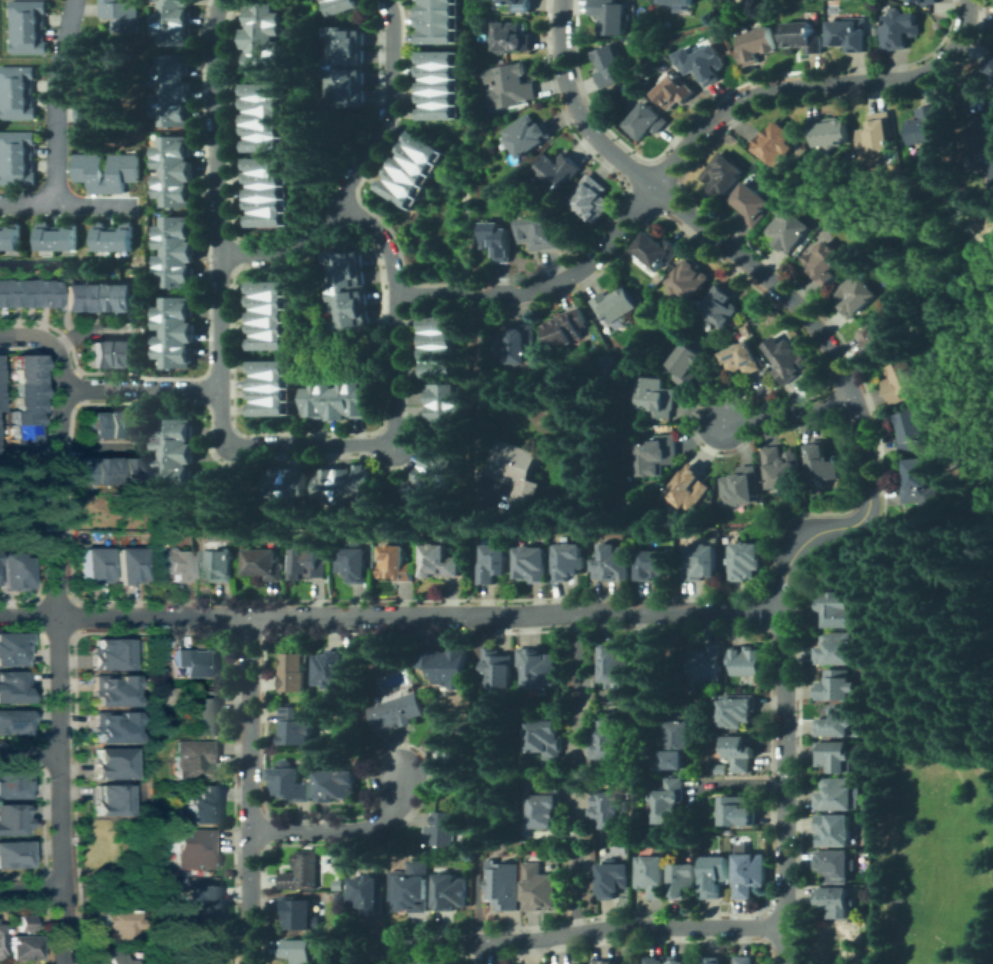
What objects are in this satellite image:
building: (326, 0)
building: (727, 0)
building: (436, 1)
building: (176, 2)
building: (675, 2)
building: (925, 2)
building: (341, 5)
building: (519, 5)
building: (435, 9)
building: (26, 12)
building: (266, 13)
building: (120, 14)
building: (174, 15)
building: (613, 17)
building: (436, 23)
building: (899, 29)
building: (265, 30)
building: (877, 30)
building: (174, 34)
building: (849, 34)
building: (344, 36)
building: (435, 36)
building: (803, 36)
building: (510, 38)
building: (26, 39)
building: (265, 44)
building: (757, 45)
building: (344, 56)
building: (437, 57)
building: (266, 61)
building: (702, 63)
building: (989, 63)
building: (610, 64)
building: (173, 65)
building: (437, 71)
building: (344, 76)
building: (16, 78)
building: (174, 82)
building: (437, 84)
building: (509, 86)
building: (627, 86)
building: (265, 89)
building: (674, 90)
building: (174, 97)
building: (344, 97)
building: (437, 98)
road: (57, 101)
building: (266, 103)
building: (16, 105)
building: (97, 109)
building: (437, 111)
building: (173, 114)
building: (265, 116)
building: (646, 121)
building: (928, 125)
building: (266, 130)
building: (828, 131)
building: (878, 133)
building: (527, 136)
building: (265, 143)
building: (16, 144)
building: (776, 144)
building: (173, 145)
building: (422, 145)
building: (980, 145)
road: (683, 147)
building: (415, 157)
building: (174, 163)
building: (266, 164)
road: (357, 168)
building: (407, 168)
building: (16, 171)
building: (89, 171)
building: (558, 171)
building: (121, 172)
building: (723, 175)
building: (266, 177)
building: (174, 178)
building: (401, 180)
building: (266, 191)
building: (394, 192)
building: (173, 194)
building: (590, 198)
building: (266, 204)
building: (751, 204)
road: (67, 205)
road: (221, 215)
building: (267, 218)
building: (173, 226)
building: (789, 230)
building: (538, 233)
building: (9, 235)
building: (45, 236)
building: (66, 236)
building: (101, 236)
building: (122, 236)
building: (498, 240)
building: (174, 243)
building: (657, 250)
building: (174, 258)
building: (342, 259)
building: (824, 264)
building: (173, 275)
building: (345, 279)
building: (690, 279)
building: (267, 287)
building: (1, 292)
building: (11, 292)
building: (25, 292)
building: (39, 292)
building: (856, 296)
building: (60, 297)
building: (74, 297)
building: (88, 297)
building: (102, 297)
building: (116, 297)
building: (130, 297)
building: (347, 299)
building: (267, 300)
building: (616, 305)
building: (722, 306)
building: (173, 307)
road: (393, 310)
building: (268, 314)
building: (350, 320)
building: (174, 323)
building: (438, 325)
building: (267, 327)
road: (91, 328)
building: (566, 328)
building: (174, 338)
building: (882, 338)
building: (438, 339)
building: (268, 341)
building: (516, 344)
building: (439, 353)
building: (88, 354)
building: (102, 354)
building: (116, 354)
building: (130, 354)
building: (173, 355)
building: (742, 359)
building: (787, 359)
building: (20, 360)
building: (686, 365)
building: (268, 366)
building: (439, 366)
building: (20, 374)
building: (268, 380)
building: (901, 381)
building: (20, 388)
road: (139, 390)
building: (268, 393)
building: (443, 394)
road: (480, 397)
building: (656, 397)
building: (312, 398)
building: (361, 398)
building: (329, 399)
building: (344, 399)
building: (20, 402)
building: (268, 407)
building: (443, 413)
road: (786, 414)
building: (16, 416)
building: (88, 425)
building: (102, 425)
building: (116, 425)
building: (130, 425)
building: (173, 429)
building: (16, 430)
building: (911, 431)
building: (16, 444)
road: (97, 445)
road: (304, 445)
building: (174, 446)
road: (867, 448)
building: (658, 456)
building: (174, 461)
building: (439, 462)
building: (822, 463)
building: (102, 469)
building: (116, 469)
building: (130, 469)
building: (781, 469)
building: (74, 470)
building: (88, 470)
building: (173, 477)
building: (519, 478)
building: (365, 481)
building: (429, 481)
building: (917, 482)
building: (326, 484)
building: (347, 484)
building: (275, 485)
building: (295, 485)
building: (742, 487)
building: (690, 488)
building: (419, 496)
building: (440, 561)
building: (569, 561)
building: (745, 561)
building: (614, 562)
building: (701, 562)
building: (172, 563)
building: (309, 563)
building: (495, 563)
building: (265, 564)
building: (356, 564)
building: (397, 564)
building: (532, 564)
building: (656, 564)
building: (93, 565)
building: (126, 565)
building: (218, 565)
building: (13, 572)
building: (838, 608)
road: (26, 615)
road: (418, 615)
road: (53, 627)
building: (836, 648)
building: (11, 649)
building: (108, 653)
building: (747, 660)
building: (196, 662)
building: (707, 663)
building: (614, 664)
building: (446, 665)
building: (539, 666)
building: (333, 669)
building: (499, 671)
building: (295, 672)
building: (838, 685)
building: (12, 686)
road: (577, 686)
building: (110, 690)
building: (736, 711)
building: (399, 712)
building: (204, 714)
building: (12, 721)
building: (837, 722)
building: (297, 726)
building: (111, 727)
building: (545, 739)
building: (607, 739)
building: (677, 743)
building: (457, 752)
building: (739, 752)
road: (29, 753)
building: (835, 756)
building: (196, 758)
building: (109, 763)
road: (484, 776)
building: (12, 783)
building: (290, 784)
building: (337, 784)
road: (250, 789)
building: (837, 794)
building: (106, 800)
building: (669, 801)
building: (203, 803)
building: (545, 809)
building: (606, 809)
building: (737, 811)
building: (10, 819)
road: (339, 828)
building: (835, 829)
building: (443, 830)
building: (198, 847)
building: (12, 854)
road: (576, 860)
building: (837, 865)
building: (303, 871)
building: (750, 873)
building: (652, 875)
building: (716, 875)
building: (614, 879)
building: (684, 880)
building: (504, 883)
building: (341, 885)
building: (412, 887)
building: (539, 887)
road: (31, 891)
building: (451, 891)
building: (369, 893)
building: (341, 898)
building: (837, 901)
building: (203, 903)
building: (300, 913)
building: (115, 925)
road: (576, 932)
building: (20, 940)
building: (203, 948)
building: (299, 950)
building: (110, 957)
building: (657, 959)
building: (713, 960)
building: (744, 960)
building: (605, 961)
building: (679, 961)
building: (426, 963)
building: (580, 963)

